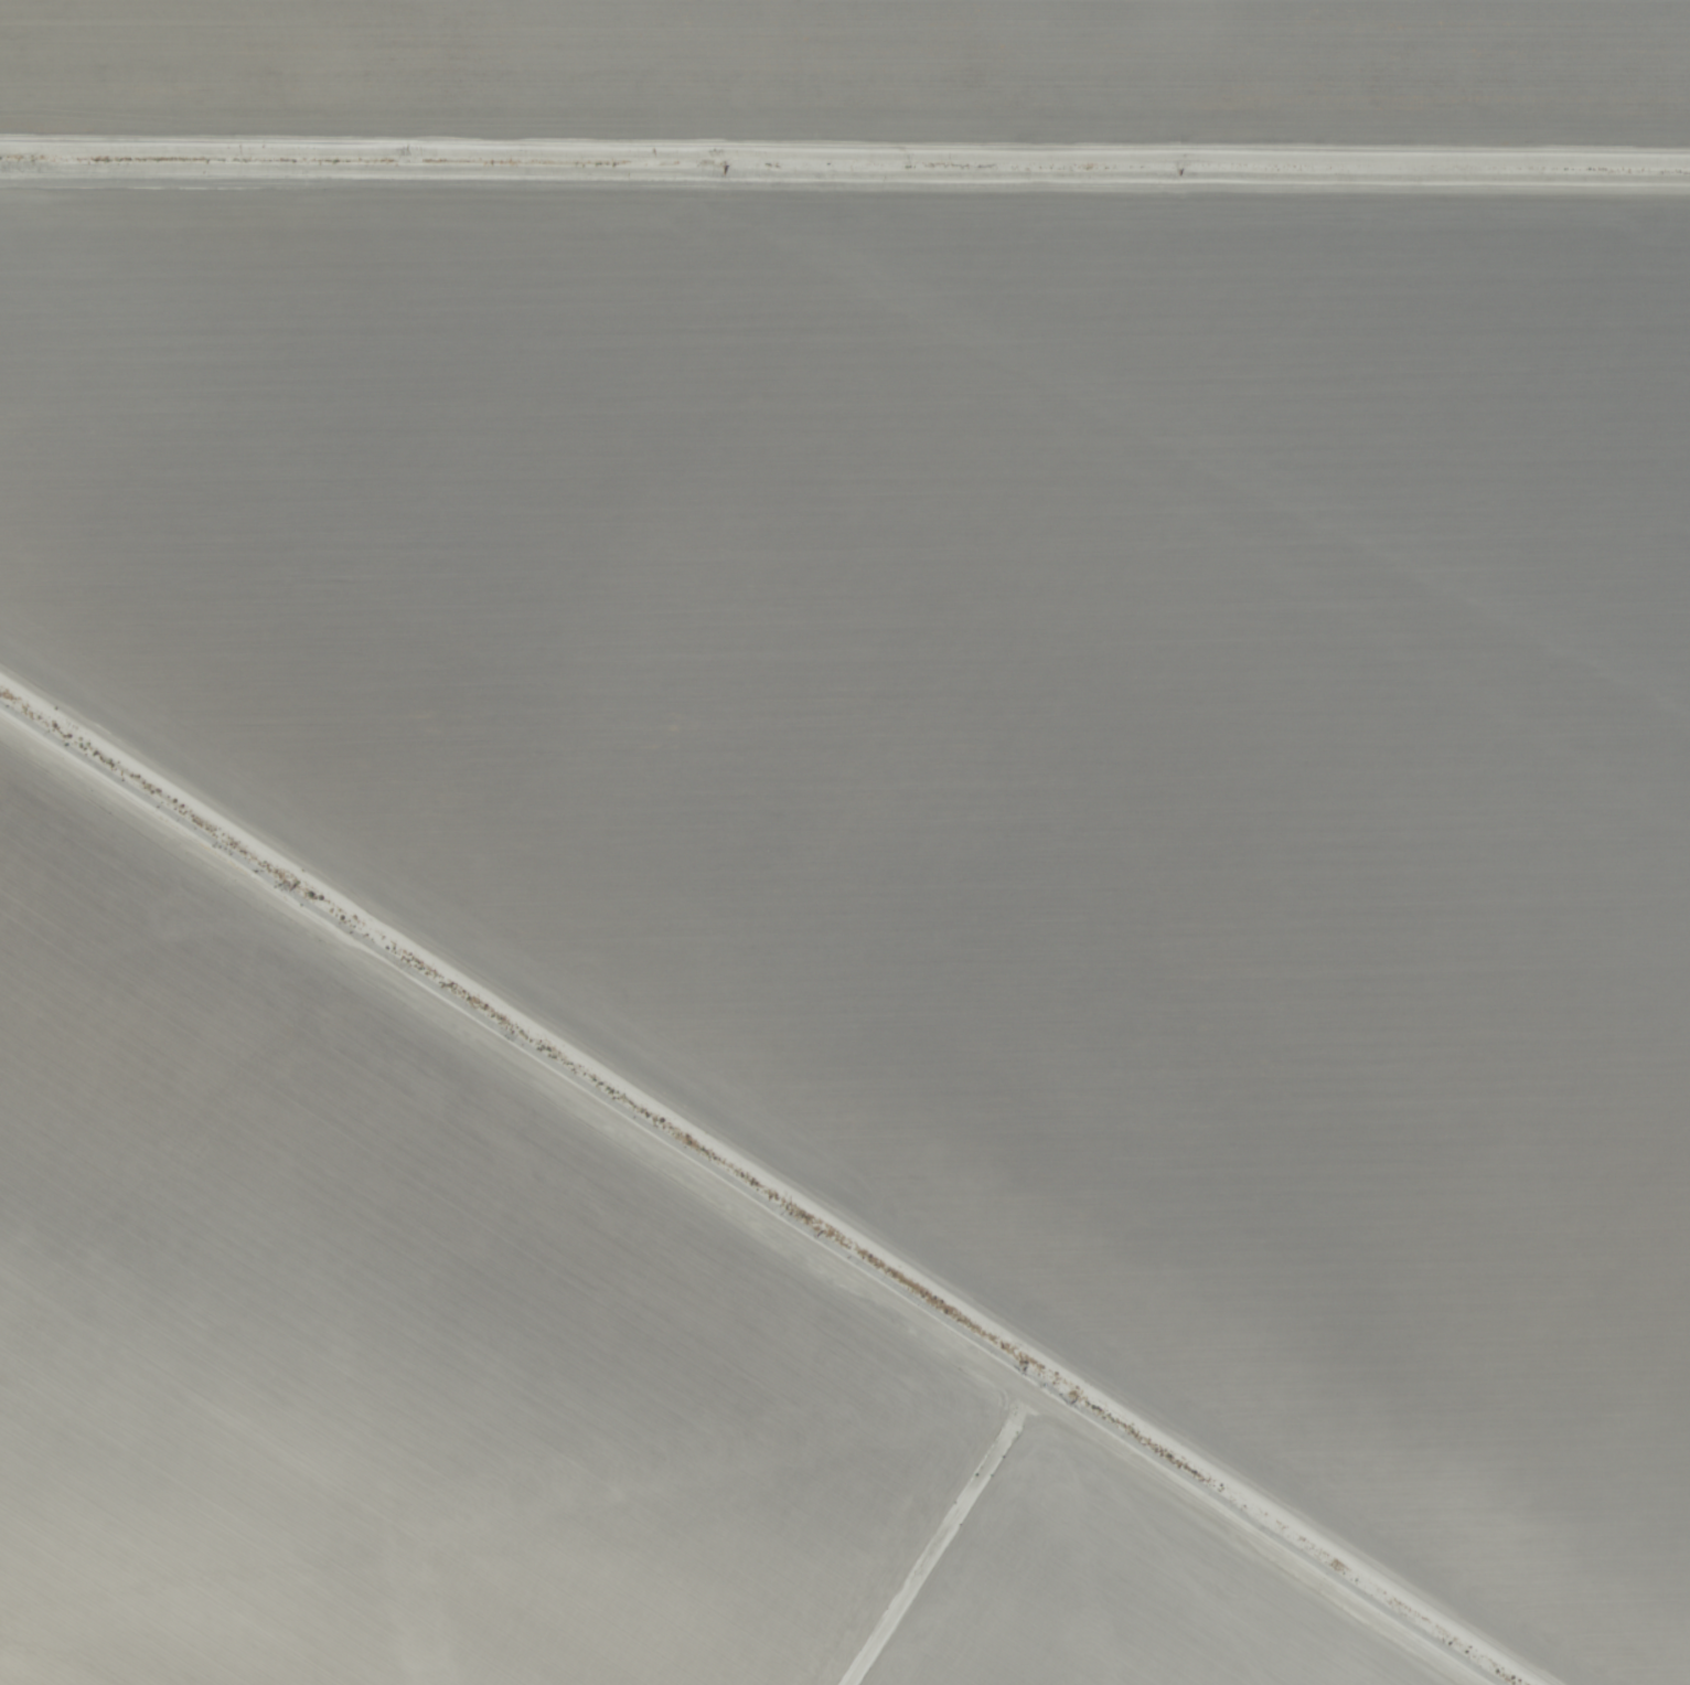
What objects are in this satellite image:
road: (845, 195)
crop: (845, 842)

